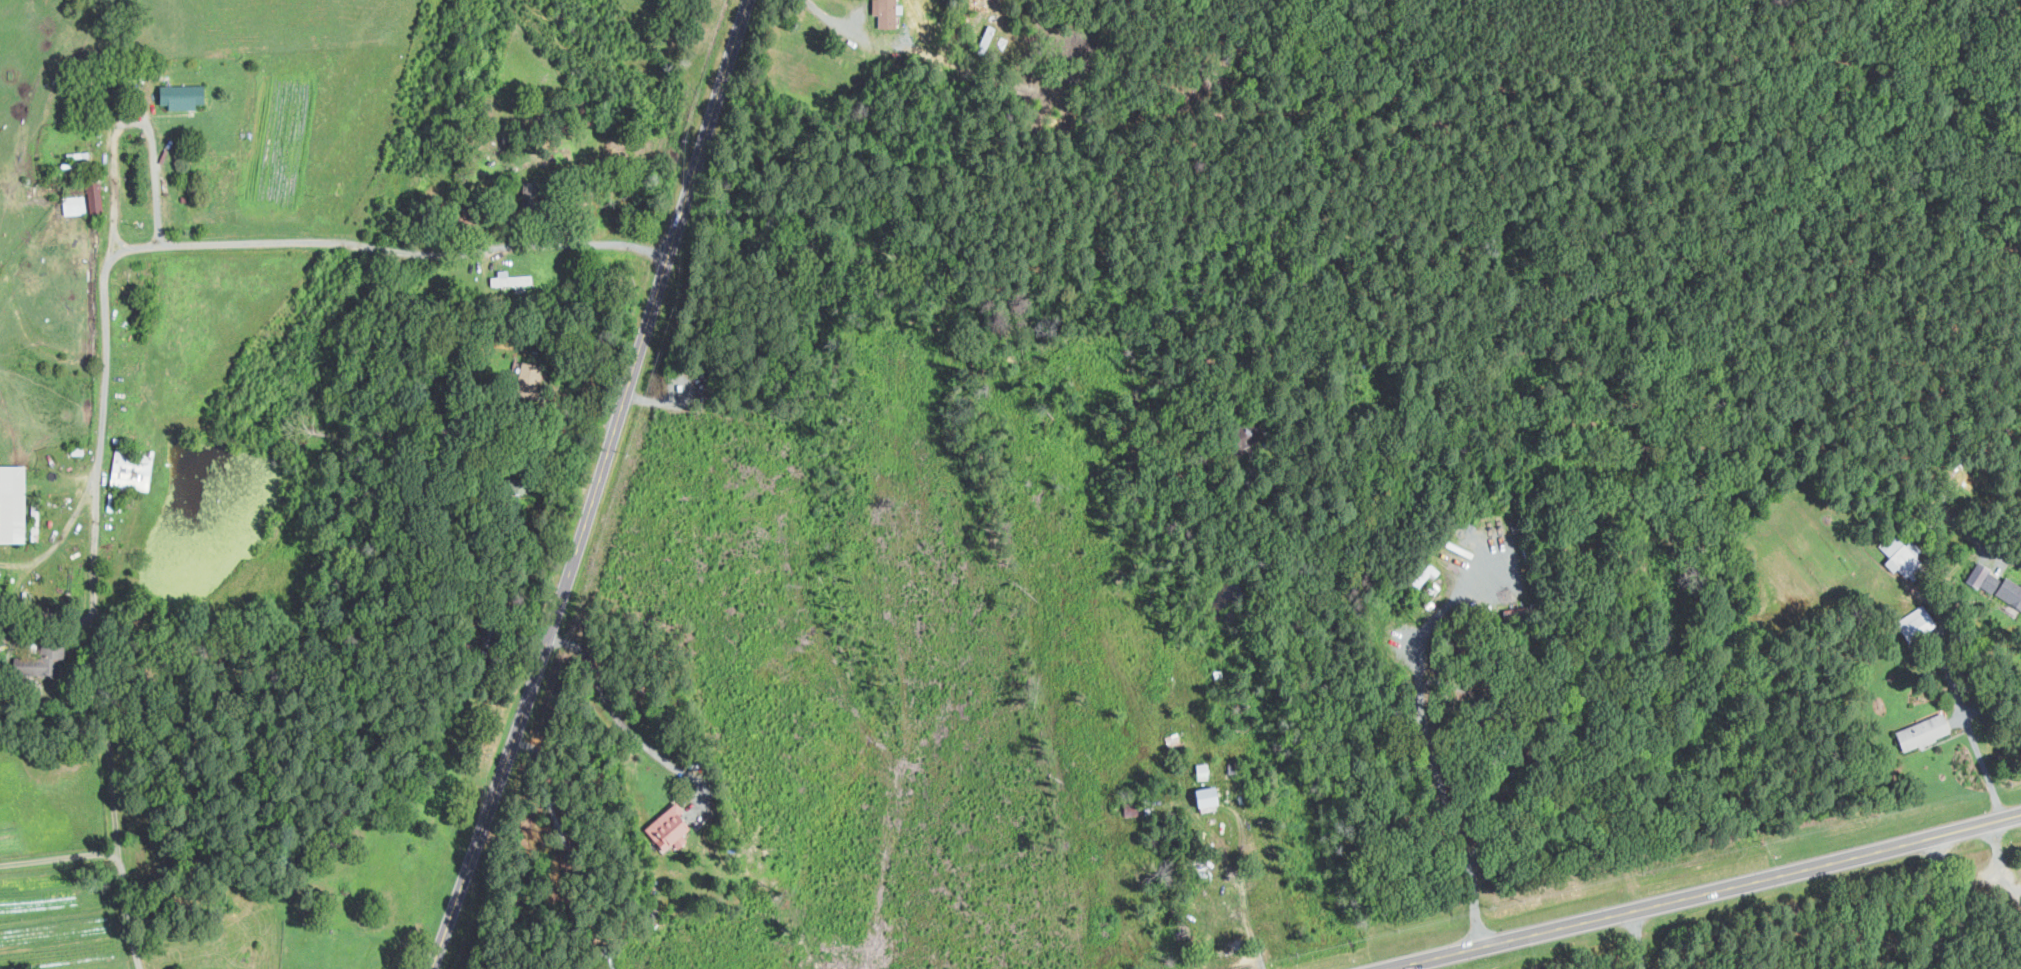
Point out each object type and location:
building: (887, 12)
road: (835, 19)
building: (182, 95)
road: (128, 121)
building: (95, 196)
building: (74, 204)
building: (510, 278)
road: (106, 332)
building: (132, 468)
road: (594, 486)
building: (12, 502)
road: (1272, 516)
road: (1956, 523)
building: (1461, 550)
building: (1901, 557)
building: (1979, 574)
building: (1423, 576)
building: (2004, 589)
building: (1917, 622)
road: (1430, 640)
road: (1939, 658)
building: (40, 662)
road: (620, 720)
road: (1413, 722)
building: (1924, 732)
road: (1496, 753)
building: (1203, 771)
building: (1207, 797)
building: (1133, 809)
building: (670, 827)
road: (60, 857)
road: (2004, 878)
road: (1697, 890)
road: (1959, 894)
road: (1244, 898)

